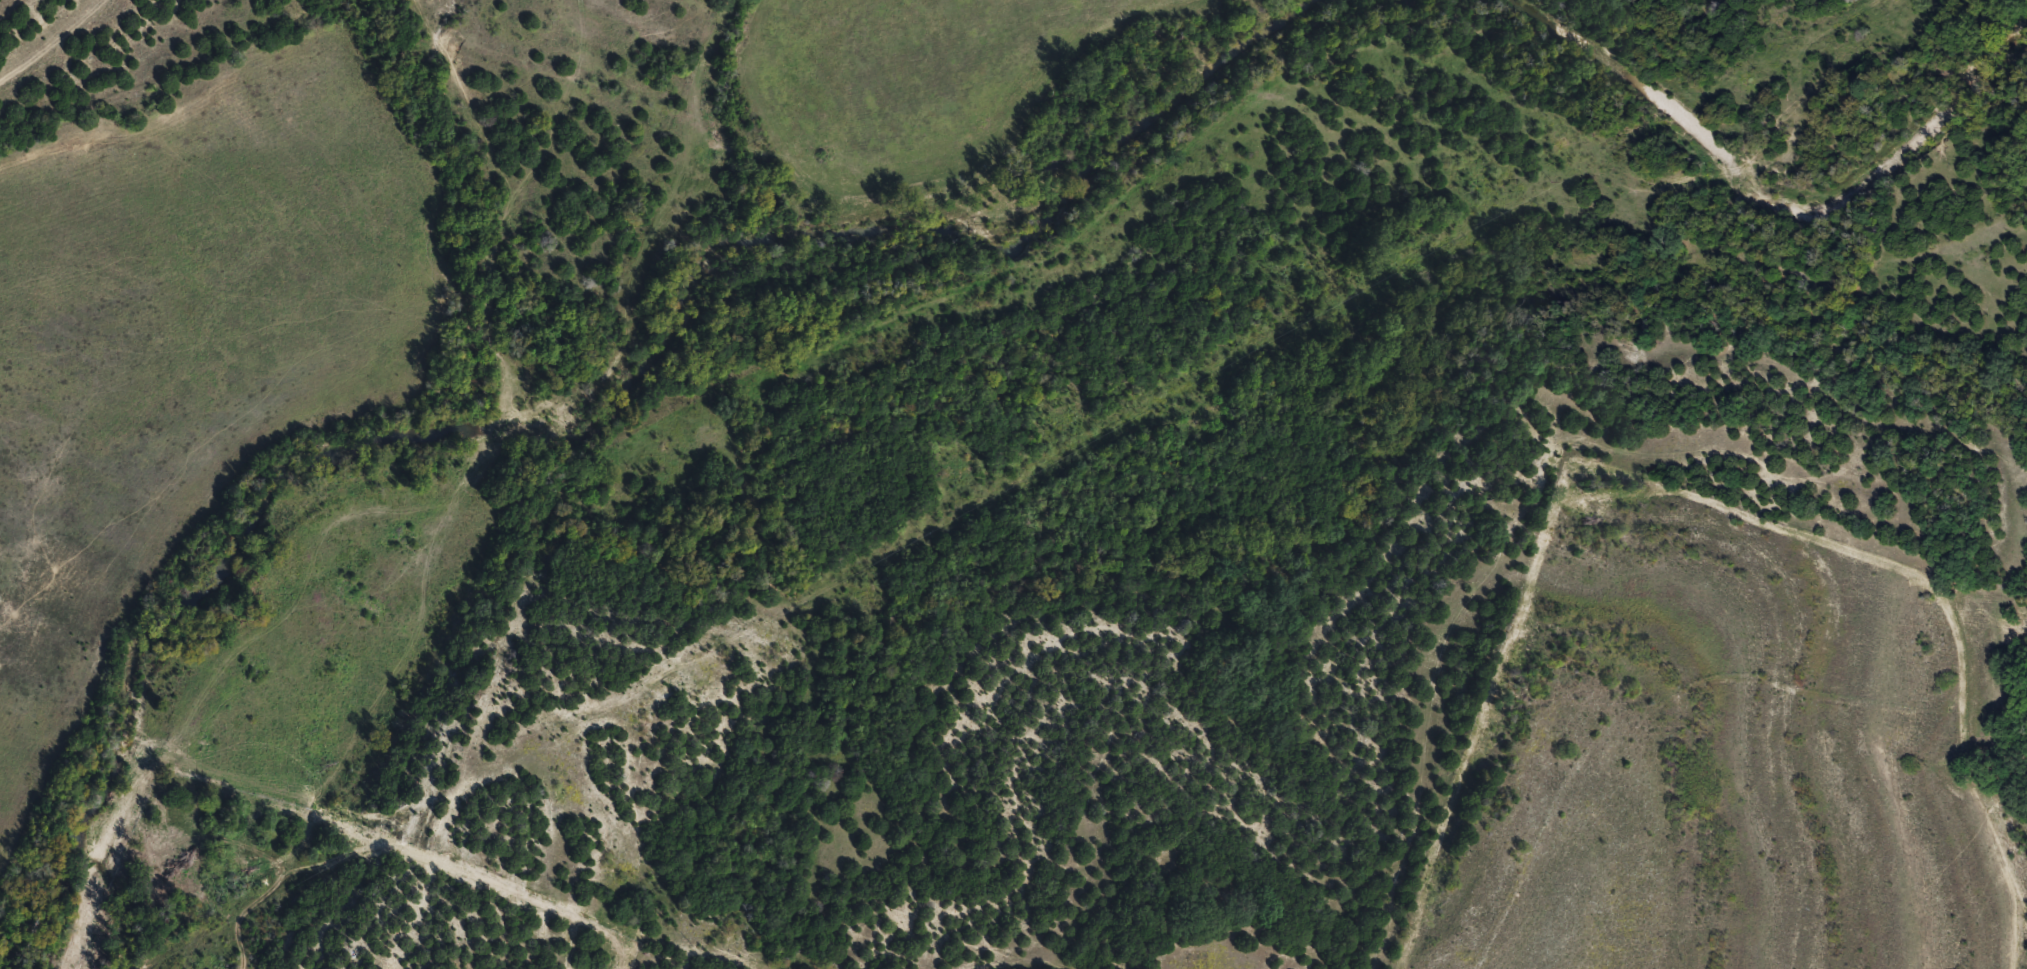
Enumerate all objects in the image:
road: (30, 50)

